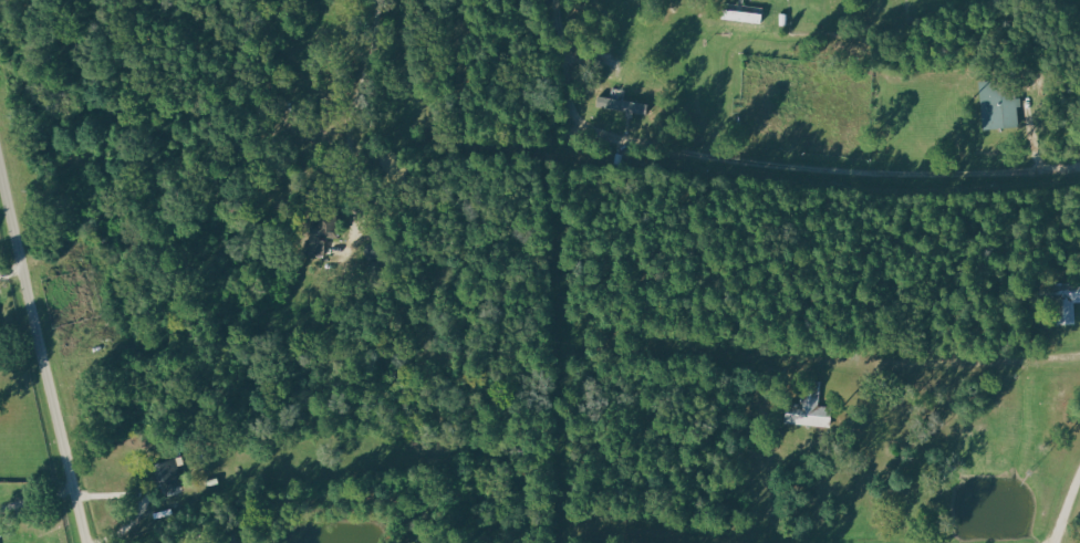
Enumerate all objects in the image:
building: (740, 17)
road: (569, 53)
building: (999, 104)
building: (622, 106)
road: (345, 124)
road: (777, 164)
road: (1065, 168)
road: (12, 270)
building: (1066, 302)
road: (44, 351)
road: (936, 370)
building: (808, 416)
building: (167, 471)
road: (1068, 510)

